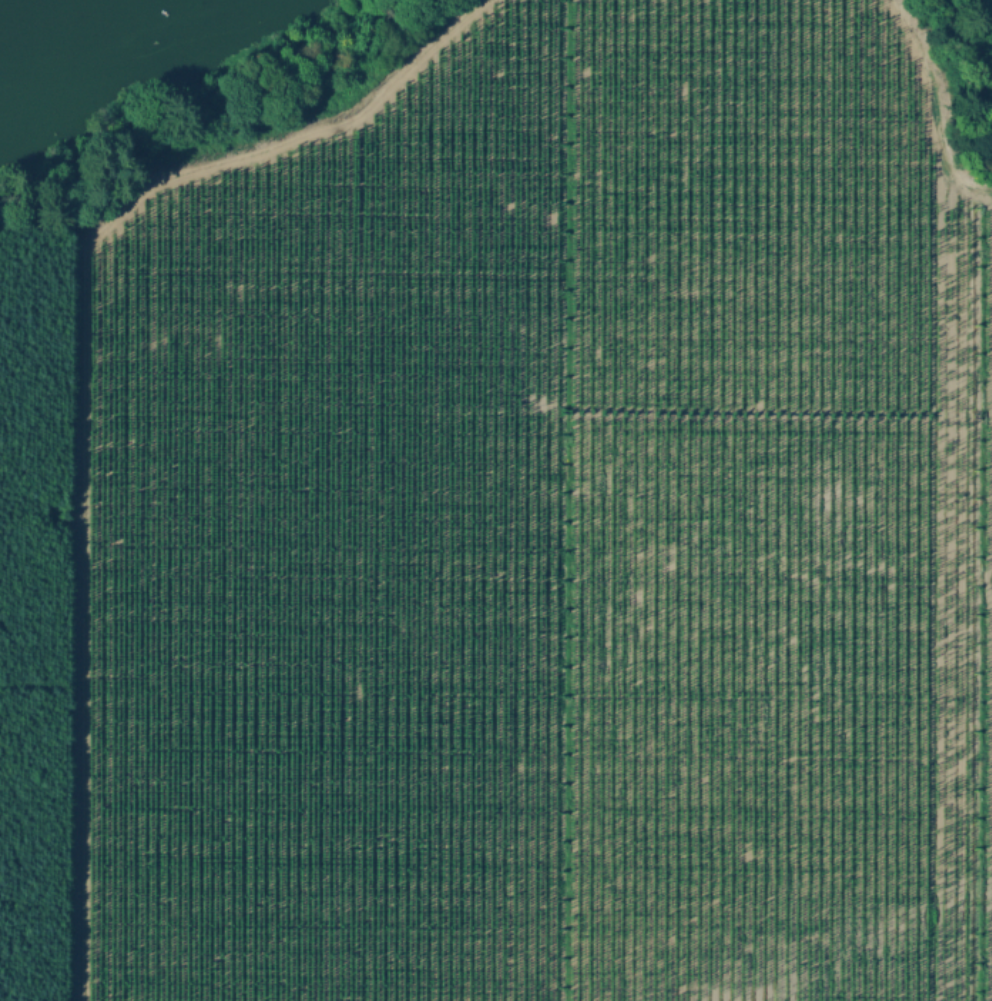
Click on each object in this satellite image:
crop: (544, 533)

